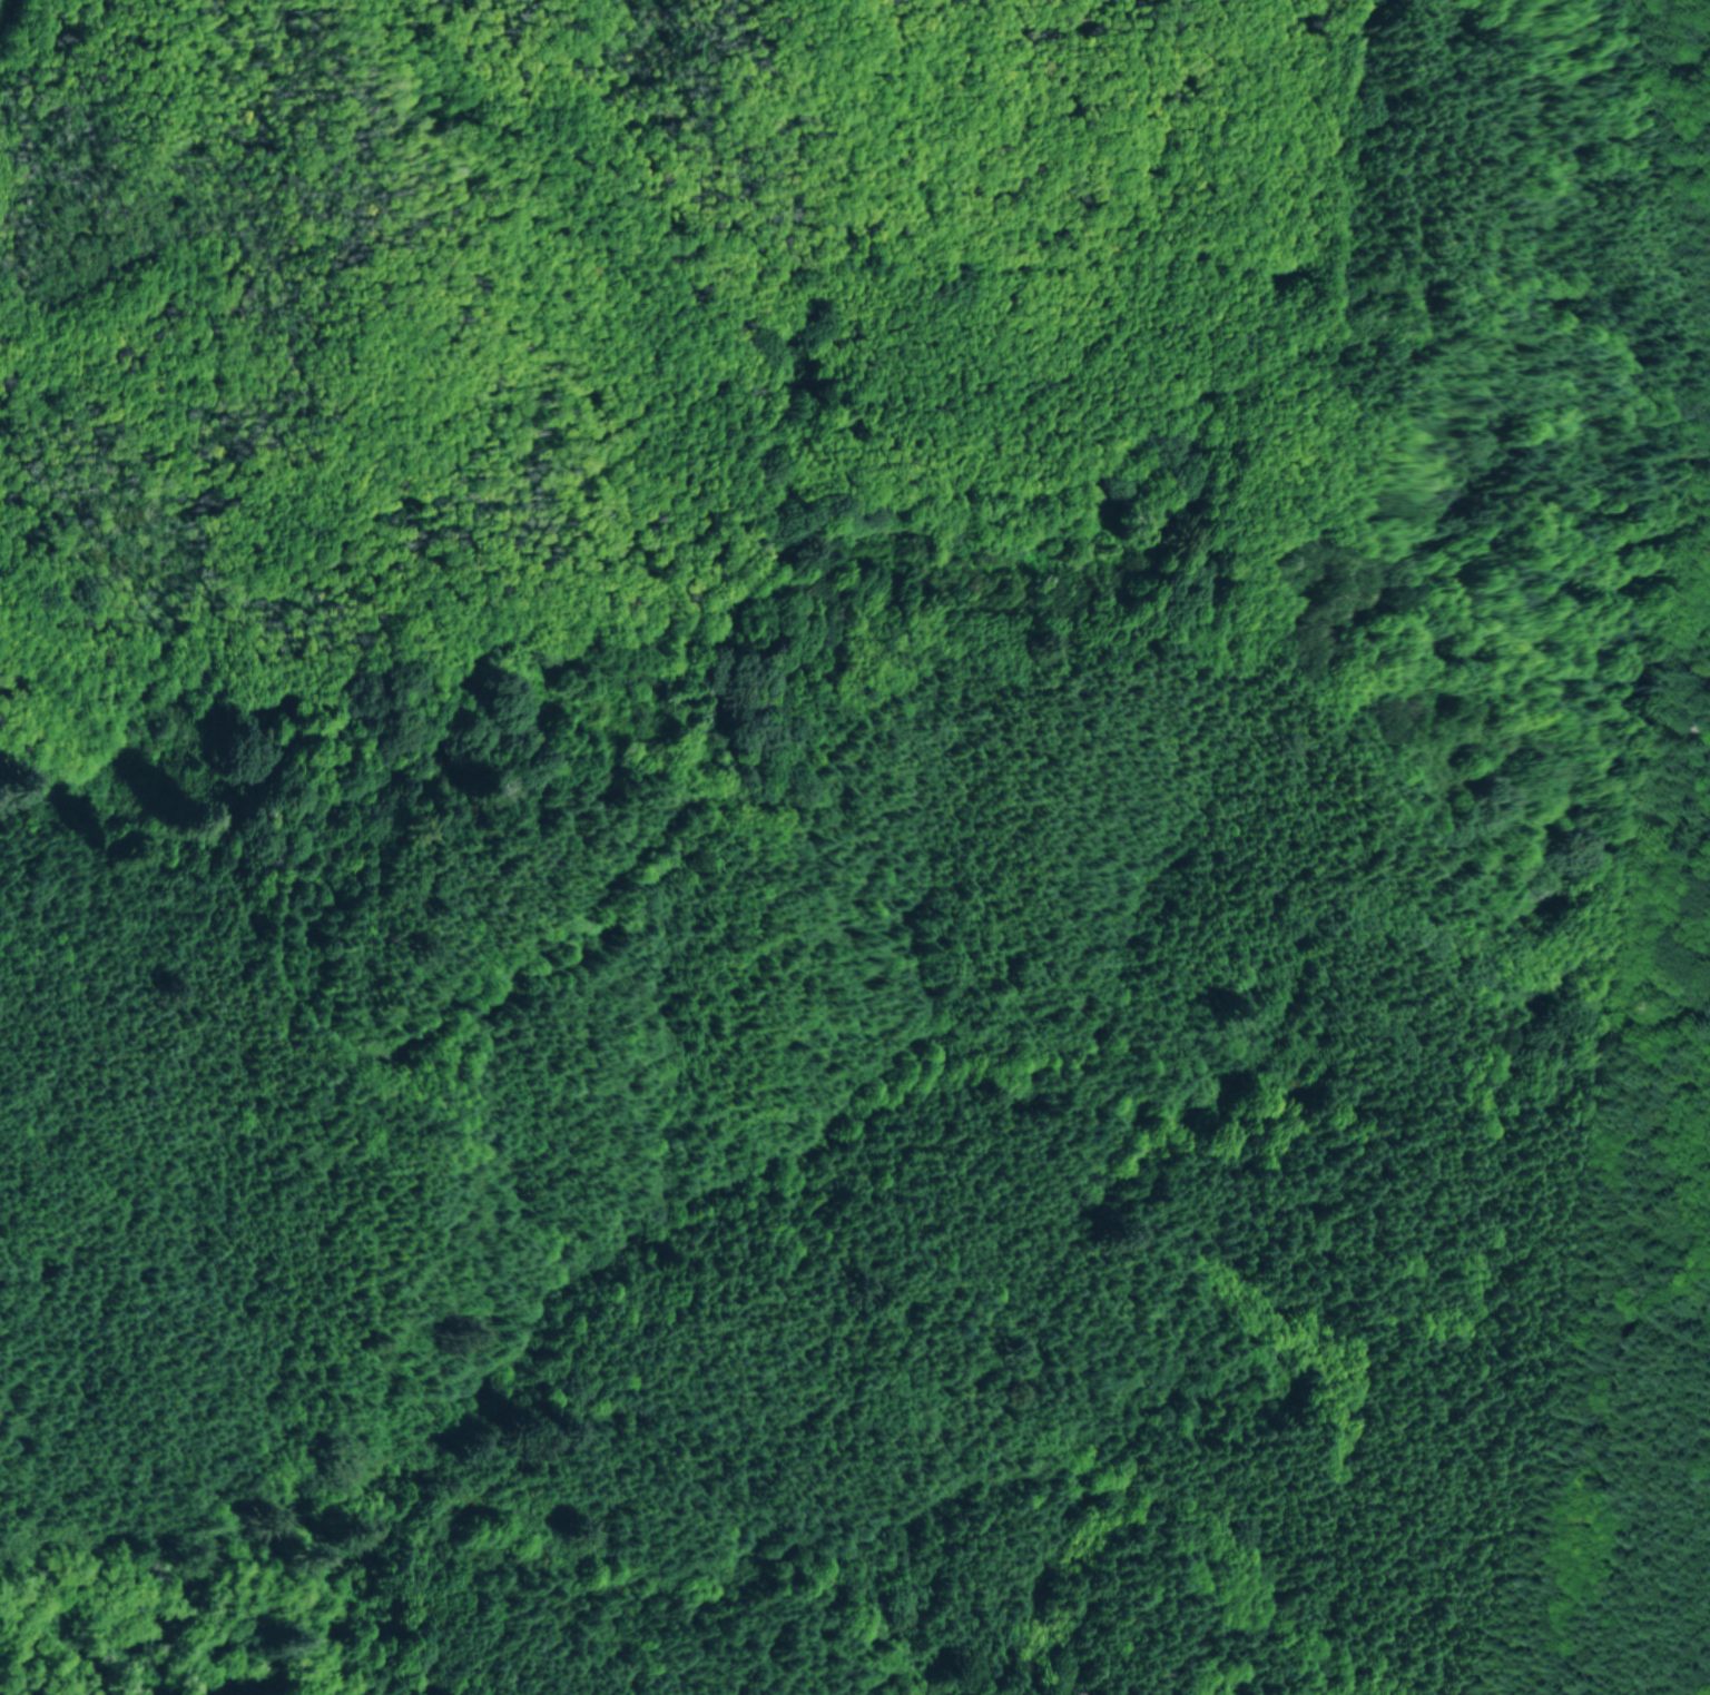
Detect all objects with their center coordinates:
road: (726, 516)
road: (1532, 854)

